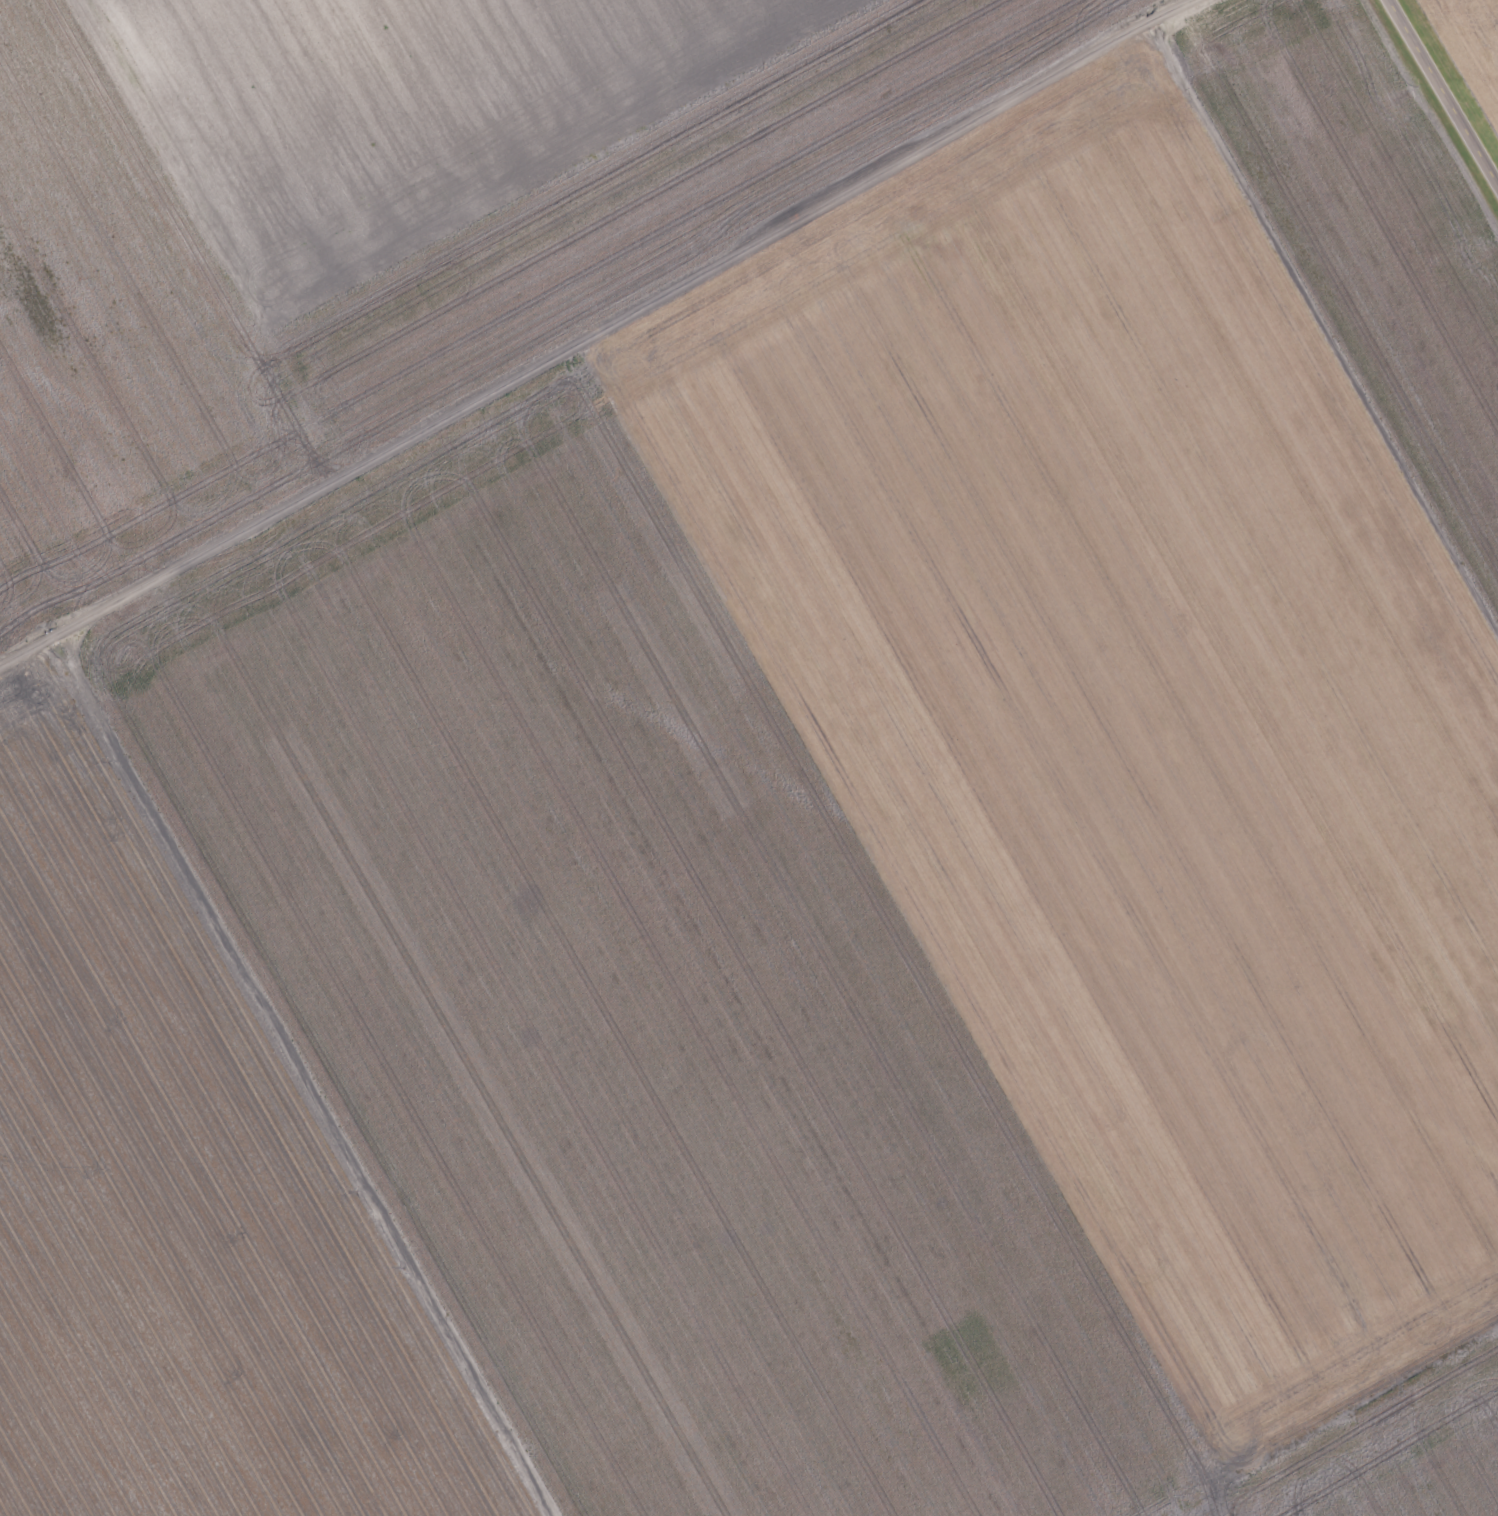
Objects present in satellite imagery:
road: (1443, 92)
road: (587, 326)

